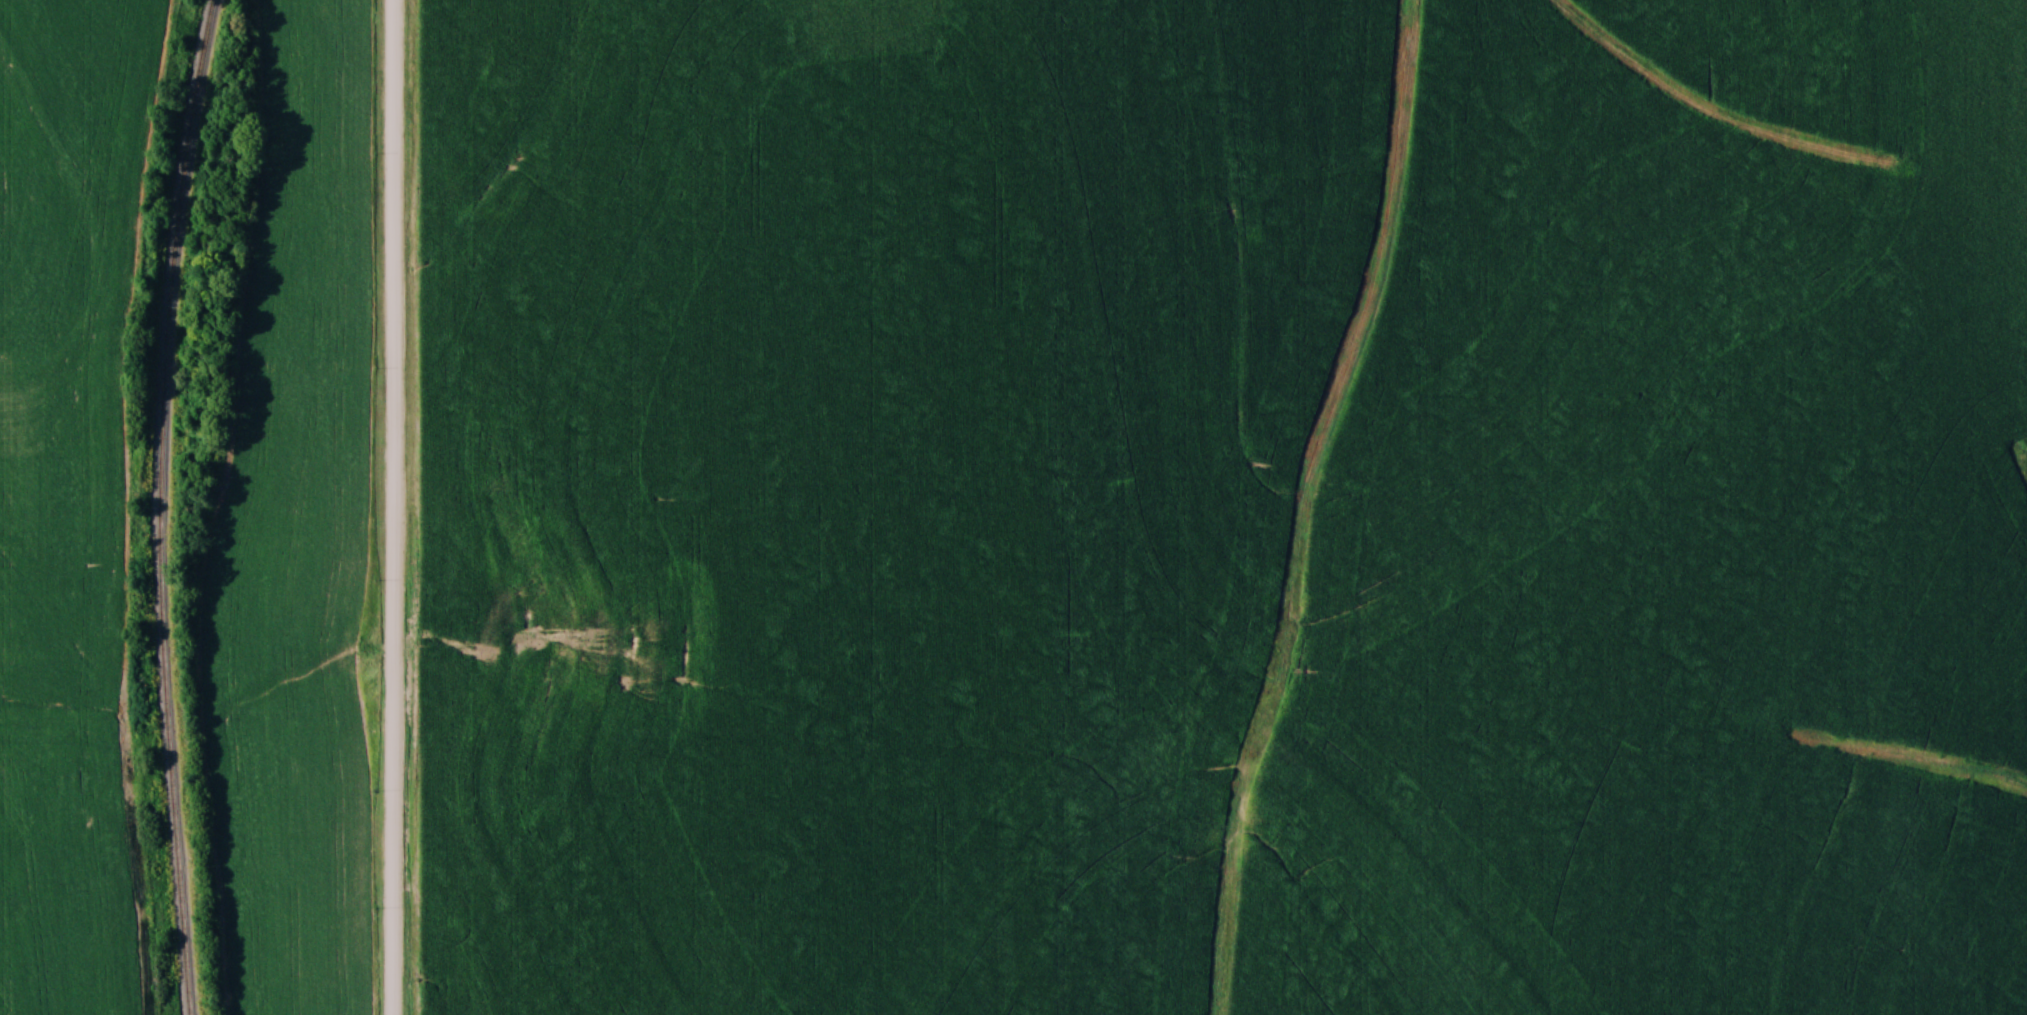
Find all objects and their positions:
railway: (159, 505)
road: (391, 507)

